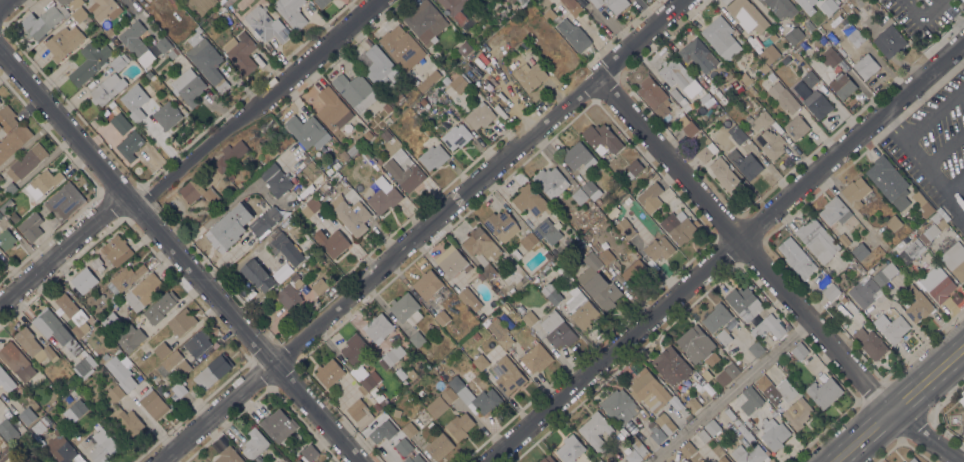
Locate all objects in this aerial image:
building: (521, 1)
building: (838, 1)
road: (4, 3)
building: (173, 3)
building: (321, 3)
building: (612, 4)
building: (572, 6)
building: (780, 7)
building: (104, 9)
building: (455, 9)
building: (77, 10)
building: (291, 12)
building: (550, 13)
building: (747, 15)
road: (920, 17)
building: (425, 19)
building: (45, 20)
building: (266, 24)
building: (809, 25)
building: (823, 29)
building: (110, 31)
building: (574, 34)
building: (794, 35)
building: (134, 37)
building: (721, 37)
building: (855, 38)
building: (757, 40)
building: (64, 41)
building: (890, 41)
building: (163, 44)
building: (799, 46)
building: (402, 47)
building: (464, 48)
building: (241, 51)
building: (173, 52)
building: (696, 52)
building: (769, 54)
building: (830, 57)
building: (206, 59)
building: (786, 59)
building: (119, 61)
building: (89, 62)
building: (791, 63)
building: (866, 66)
building: (379, 67)
building: (763, 67)
building: (779, 70)
building: (849, 71)
building: (675, 73)
building: (149, 74)
building: (530, 75)
building: (771, 76)
building: (745, 78)
building: (809, 78)
building: (429, 80)
building: (446, 80)
building: (460, 82)
building: (842, 85)
building: (188, 86)
building: (107, 88)
building: (355, 91)
building: (752, 91)
building: (654, 96)
building: (400, 97)
building: (704, 97)
building: (783, 97)
building: (680, 99)
building: (423, 100)
building: (0, 102)
building: (133, 103)
road: (256, 104)
building: (817, 104)
building: (387, 107)
building: (333, 109)
road: (934, 112)
building: (167, 115)
building: (479, 115)
building: (7, 118)
building: (759, 120)
building: (119, 122)
building: (403, 123)
building: (687, 125)
building: (796, 126)
building: (307, 131)
building: (747, 131)
building: (736, 133)
building: (386, 134)
building: (368, 135)
building: (456, 136)
building: (602, 138)
building: (13, 141)
building: (772, 144)
building: (130, 145)
road: (944, 147)
building: (352, 150)
building: (273, 152)
building: (706, 152)
building: (432, 153)
building: (229, 155)
building: (344, 155)
building: (577, 155)
building: (26, 162)
building: (745, 163)
road: (922, 163)
building: (239, 166)
building: (633, 168)
building: (258, 169)
building: (407, 170)
building: (725, 175)
building: (0, 176)
building: (230, 176)
building: (276, 179)
building: (550, 181)
building: (889, 181)
building: (41, 184)
building: (239, 185)
building: (11, 187)
building: (198, 190)
building: (591, 190)
building: (855, 191)
building: (319, 195)
building: (384, 195)
building: (579, 196)
building: (650, 197)
building: (531, 200)
building: (65, 201)
building: (922, 203)
building: (310, 207)
road: (220, 209)
building: (835, 210)
building: (598, 213)
building: (944, 213)
building: (1, 214)
building: (350, 214)
building: (580, 216)
building: (265, 221)
building: (696, 222)
building: (893, 222)
building: (501, 225)
building: (31, 226)
building: (228, 227)
building: (680, 227)
building: (933, 227)
building: (545, 228)
building: (625, 228)
road: (423, 232)
building: (6, 238)
building: (817, 239)
building: (844, 239)
building: (528, 240)
building: (331, 241)
building: (480, 243)
building: (576, 243)
building: (565, 244)
building: (284, 246)
road: (741, 246)
building: (659, 248)
road: (726, 249)
road: (62, 250)
building: (117, 250)
building: (860, 250)
building: (911, 250)
road: (179, 256)
building: (562, 256)
building: (606, 256)
building: (796, 257)
building: (955, 259)
building: (452, 262)
building: (856, 268)
building: (488, 271)
building: (281, 272)
building: (635, 272)
building: (885, 273)
building: (257, 274)
building: (480, 277)
building: (124, 278)
building: (296, 279)
building: (84, 280)
building: (598, 282)
building: (937, 283)
building: (320, 286)
building: (430, 286)
building: (869, 287)
building: (143, 291)
building: (831, 291)
building: (551, 293)
building: (852, 293)
building: (465, 294)
building: (288, 296)
building: (842, 299)
building: (744, 300)
building: (859, 303)
building: (917, 303)
building: (161, 308)
building: (505, 308)
building: (581, 308)
building: (405, 309)
building: (852, 310)
building: (73, 314)
building: (442, 317)
building: (716, 317)
building: (529, 318)
building: (111, 321)
building: (182, 322)
building: (771, 326)
building: (379, 327)
building: (891, 327)
building: (557, 329)
building: (60, 331)
building: (500, 332)
building: (476, 336)
building: (724, 336)
building: (129, 337)
building: (417, 339)
building: (198, 342)
building: (870, 343)
building: (34, 345)
building: (697, 345)
building: (146, 348)
building: (354, 348)
building: (162, 349)
building: (756, 349)
building: (799, 350)
building: (786, 354)
building: (392, 356)
building: (536, 357)
building: (15, 358)
building: (172, 359)
building: (481, 361)
building: (85, 364)
building: (671, 365)
building: (183, 367)
building: (213, 371)
building: (329, 372)
building: (120, 373)
building: (399, 373)
building: (411, 374)
building: (508, 374)
building: (706, 374)
building: (727, 374)
building: (697, 377)
building: (6, 380)
building: (369, 382)
building: (763, 383)
building: (67, 385)
building: (179, 387)
building: (51, 388)
building: (708, 388)
building: (648, 390)
road: (725, 390)
building: (374, 391)
building: (824, 392)
building: (963, 392)
building: (115, 394)
building: (449, 395)
building: (476, 395)
building: (379, 397)
building: (962, 399)
building: (751, 400)
building: (153, 403)
building: (383, 403)
road: (897, 403)
building: (692, 404)
building: (376, 406)
building: (437, 406)
building: (78, 407)
building: (621, 407)
building: (727, 410)
building: (669, 411)
building: (683, 411)
building: (360, 412)
building: (396, 412)
building: (797, 413)
building: (27, 415)
building: (129, 420)
building: (748, 421)
building: (665, 423)
building: (278, 424)
building: (39, 425)
building: (459, 425)
building: (712, 427)
building: (409, 429)
building: (596, 430)
building: (8, 431)
building: (656, 432)
building: (745, 432)
building: (773, 433)
building: (377, 434)
building: (703, 435)
road: (922, 436)
building: (2, 443)
building: (255, 443)
building: (638, 445)
building: (102, 446)
building: (403, 446)
building: (439, 446)
building: (691, 446)
building: (60, 447)
building: (570, 448)
building: (767, 450)
building: (39, 452)
building: (309, 452)
building: (6, 453)
building: (750, 454)
building: (229, 455)
building: (633, 456)
building: (413, 458)
building: (546, 459)
building: (722, 459)
building: (299, 460)
building: (913, 460)
building: (0, 461)
building: (285, 461)
building: (902, 461)

